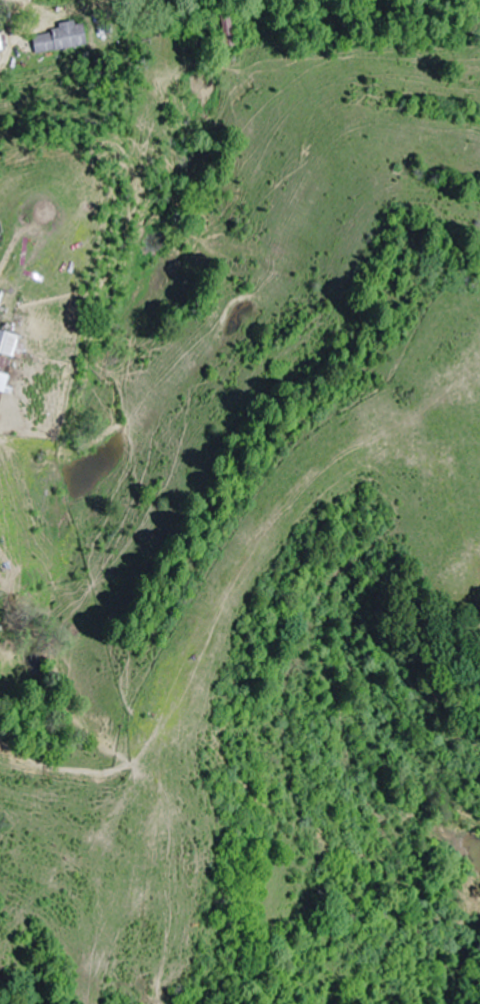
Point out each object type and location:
building: (58, 37)
building: (0, 45)
road: (19, 96)
building: (8, 343)
building: (3, 371)
road: (152, 843)

